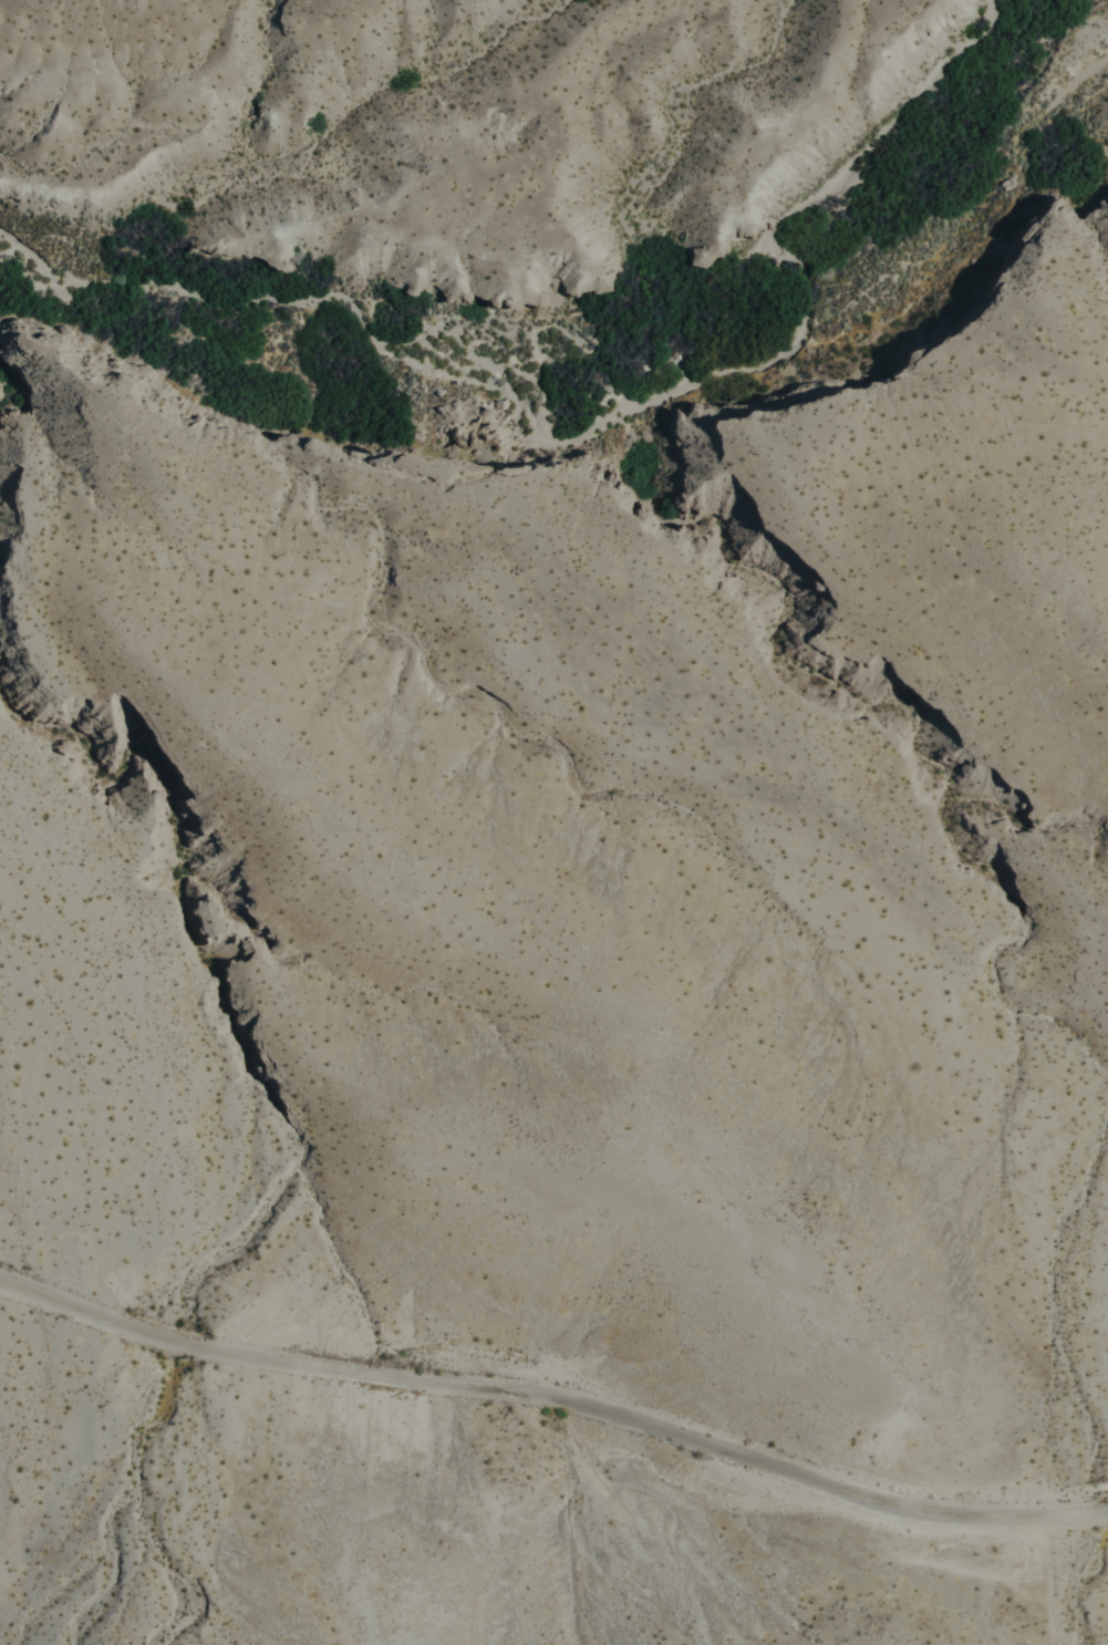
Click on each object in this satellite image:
road: (551, 1409)

